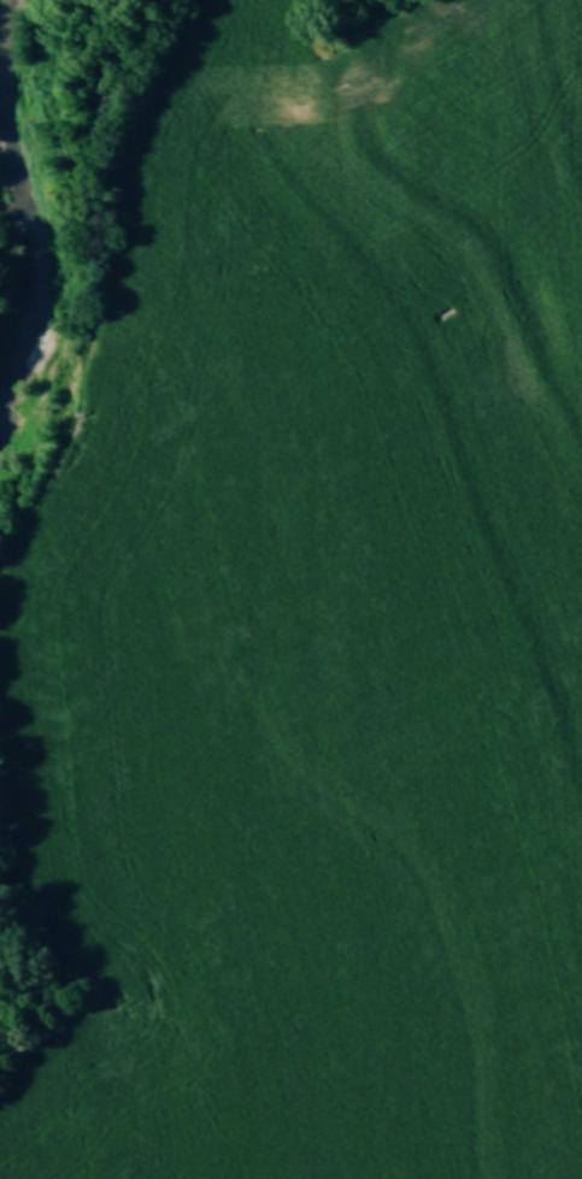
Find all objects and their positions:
river: (18, 259)

